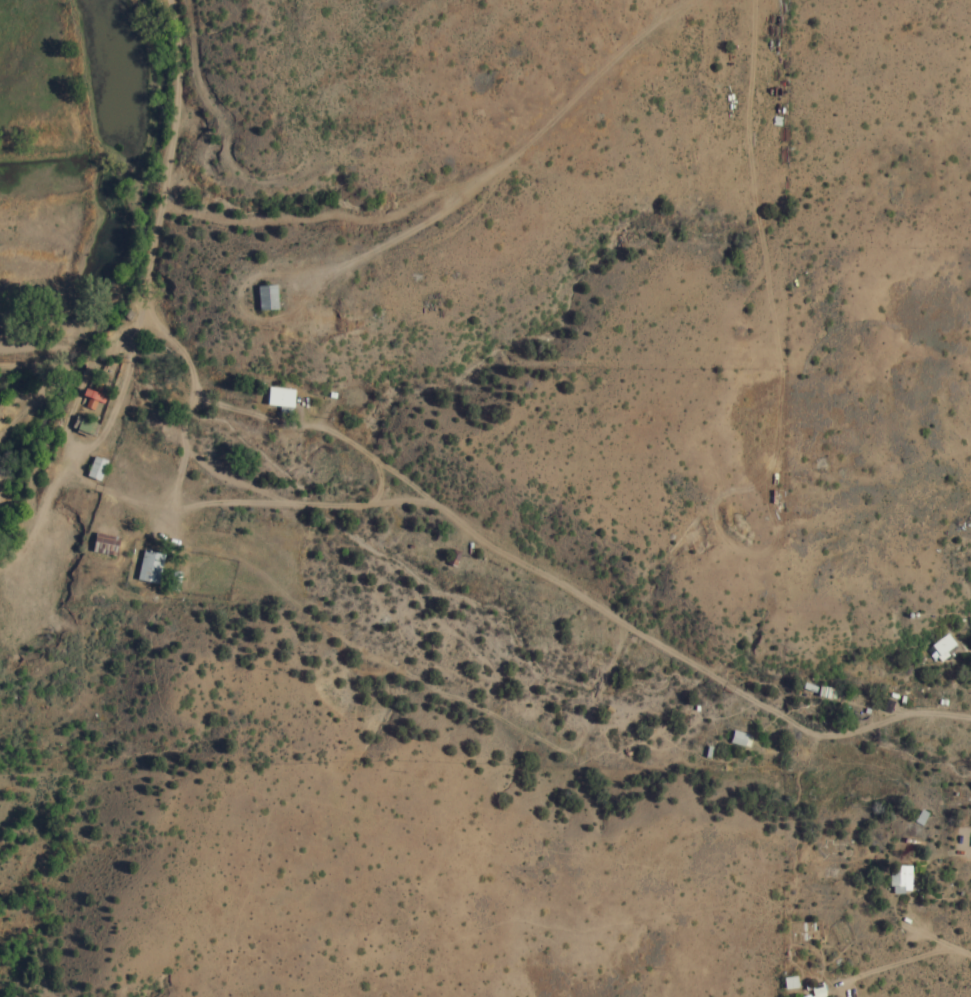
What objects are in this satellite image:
building: (265, 298)
building: (96, 388)
building: (279, 397)
building: (91, 399)
building: (95, 468)
building: (103, 544)
building: (148, 567)
road: (541, 572)
building: (942, 647)
building: (739, 739)
building: (920, 817)
building: (900, 880)
building: (789, 982)
building: (815, 992)

